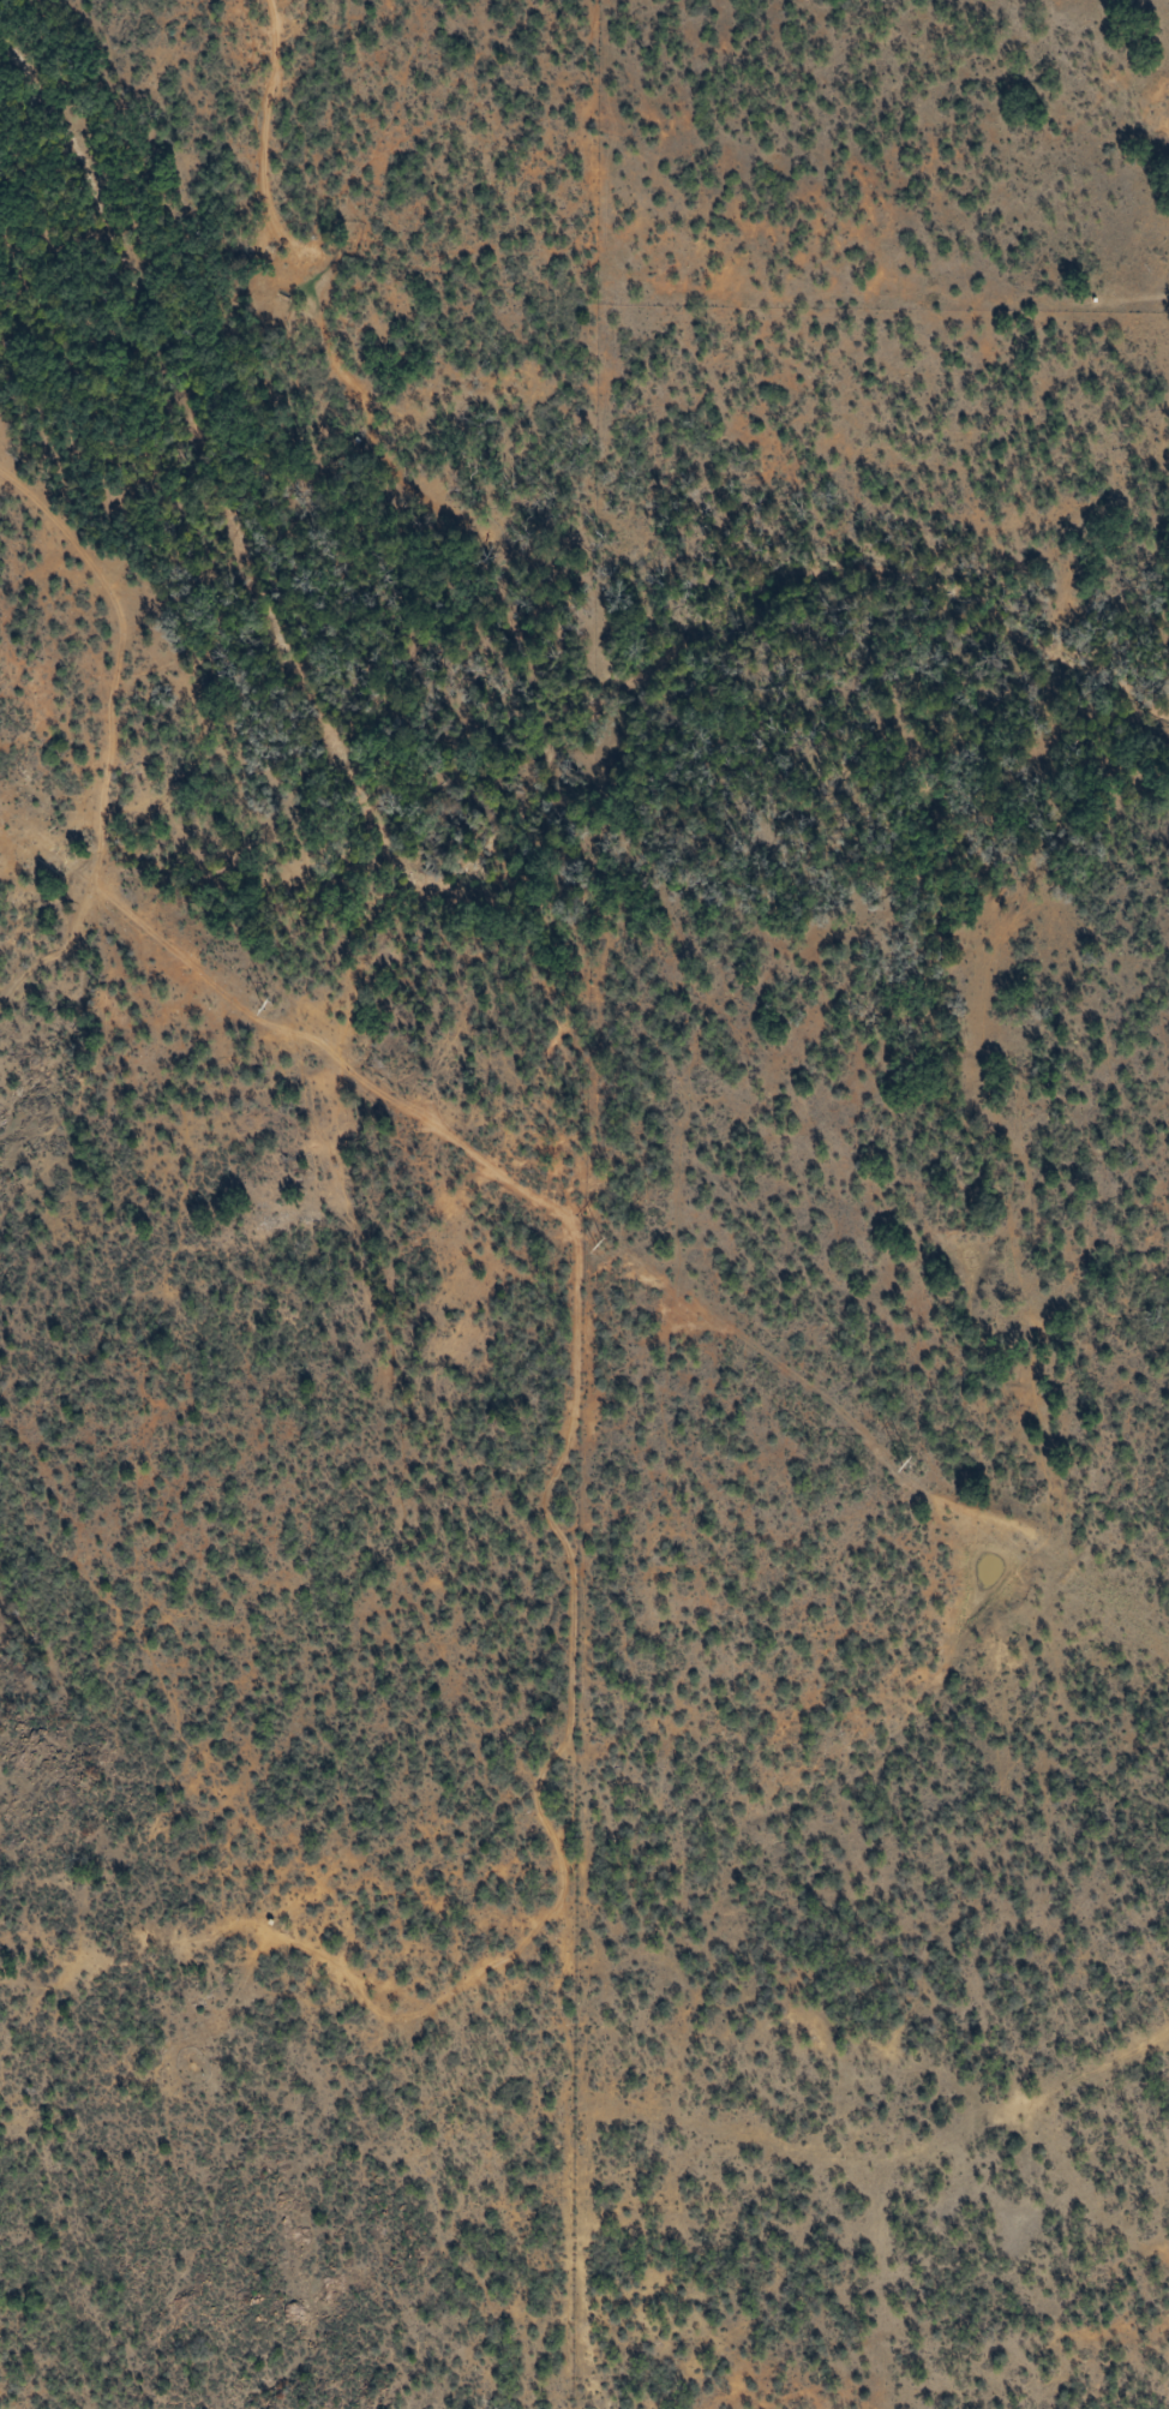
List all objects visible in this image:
road: (265, 119)
power tower: (272, 1009)
road: (409, 1131)
power tower: (604, 1241)
power tower: (913, 1466)

